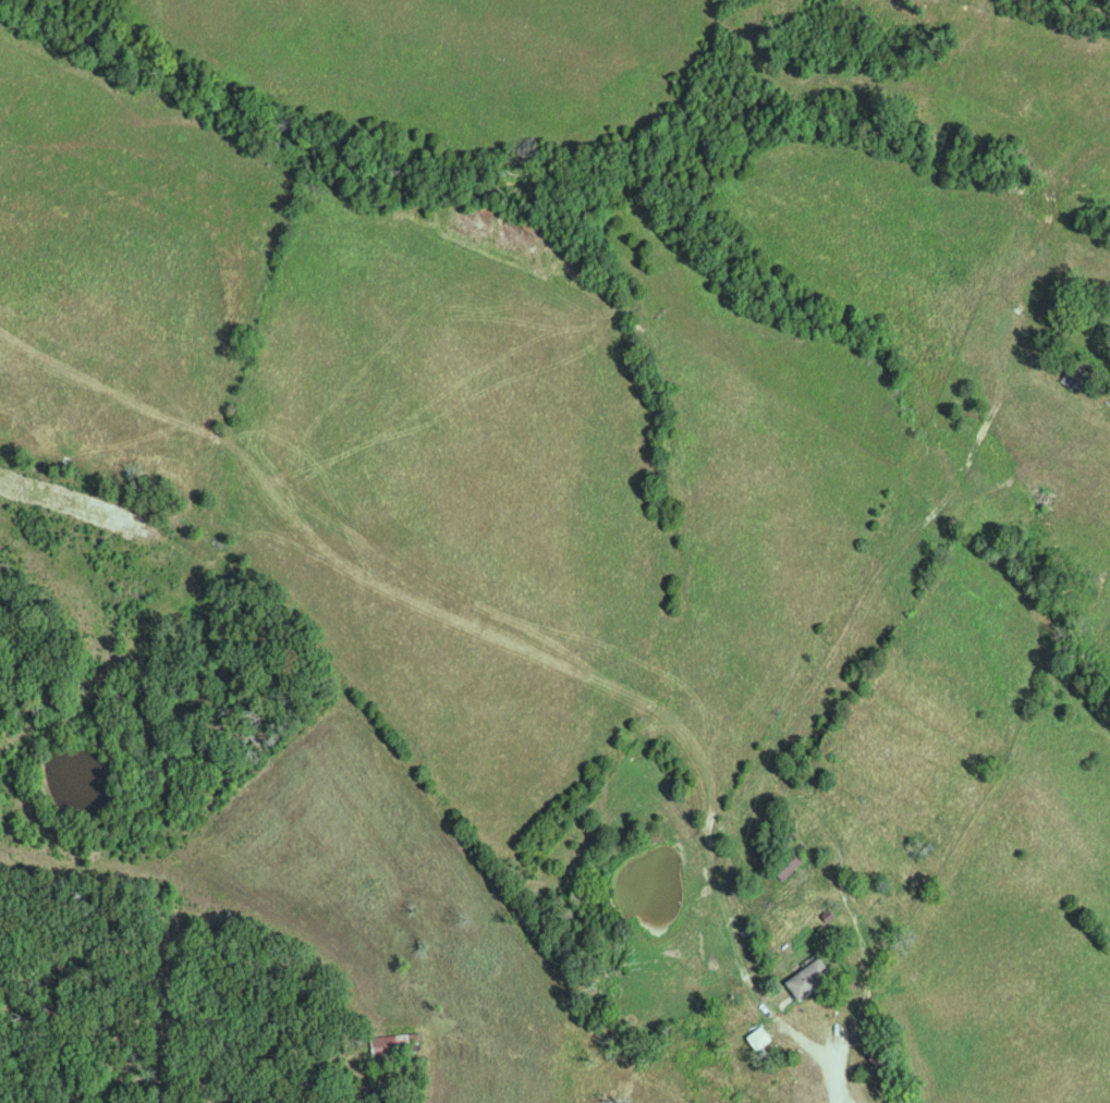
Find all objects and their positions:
building: (814, 979)
road: (829, 1076)

